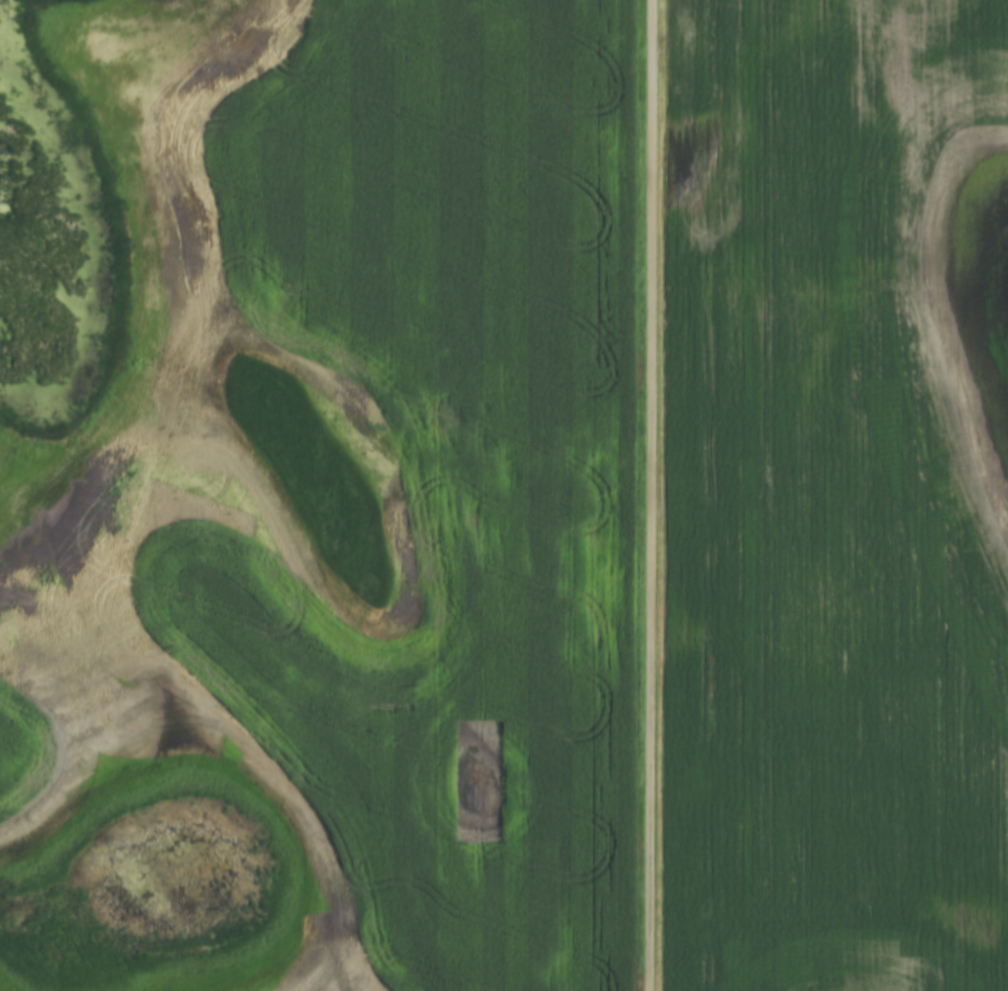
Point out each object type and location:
road: (650, 495)
building: (891, 932)
building: (831, 933)

